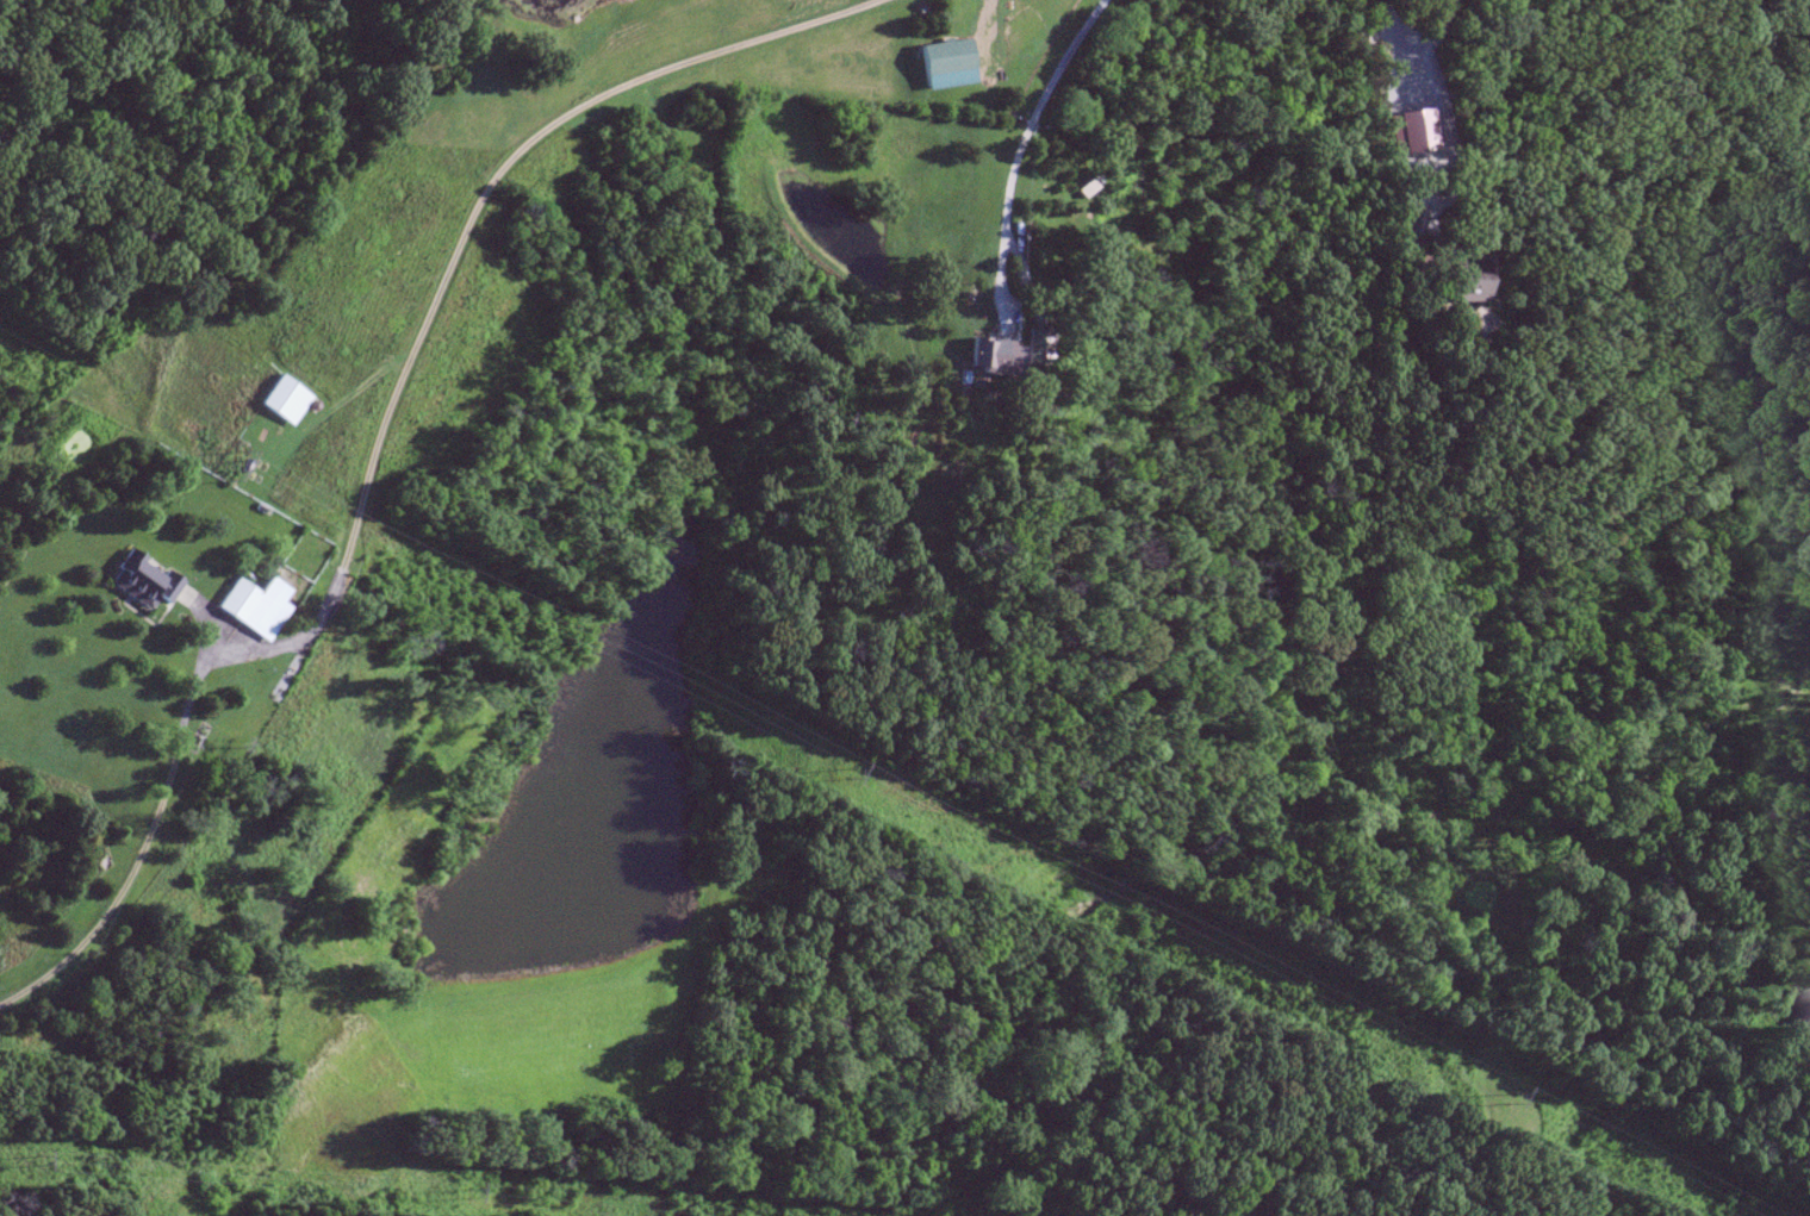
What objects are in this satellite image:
building: (1809, 12)
road: (1033, 108)
road: (473, 211)
building: (1410, 223)
building: (1470, 281)
road: (1007, 308)
building: (1041, 345)
building: (991, 354)
building: (284, 400)
building: (144, 581)
building: (259, 606)
road: (150, 807)
power tower: (479, 1192)

